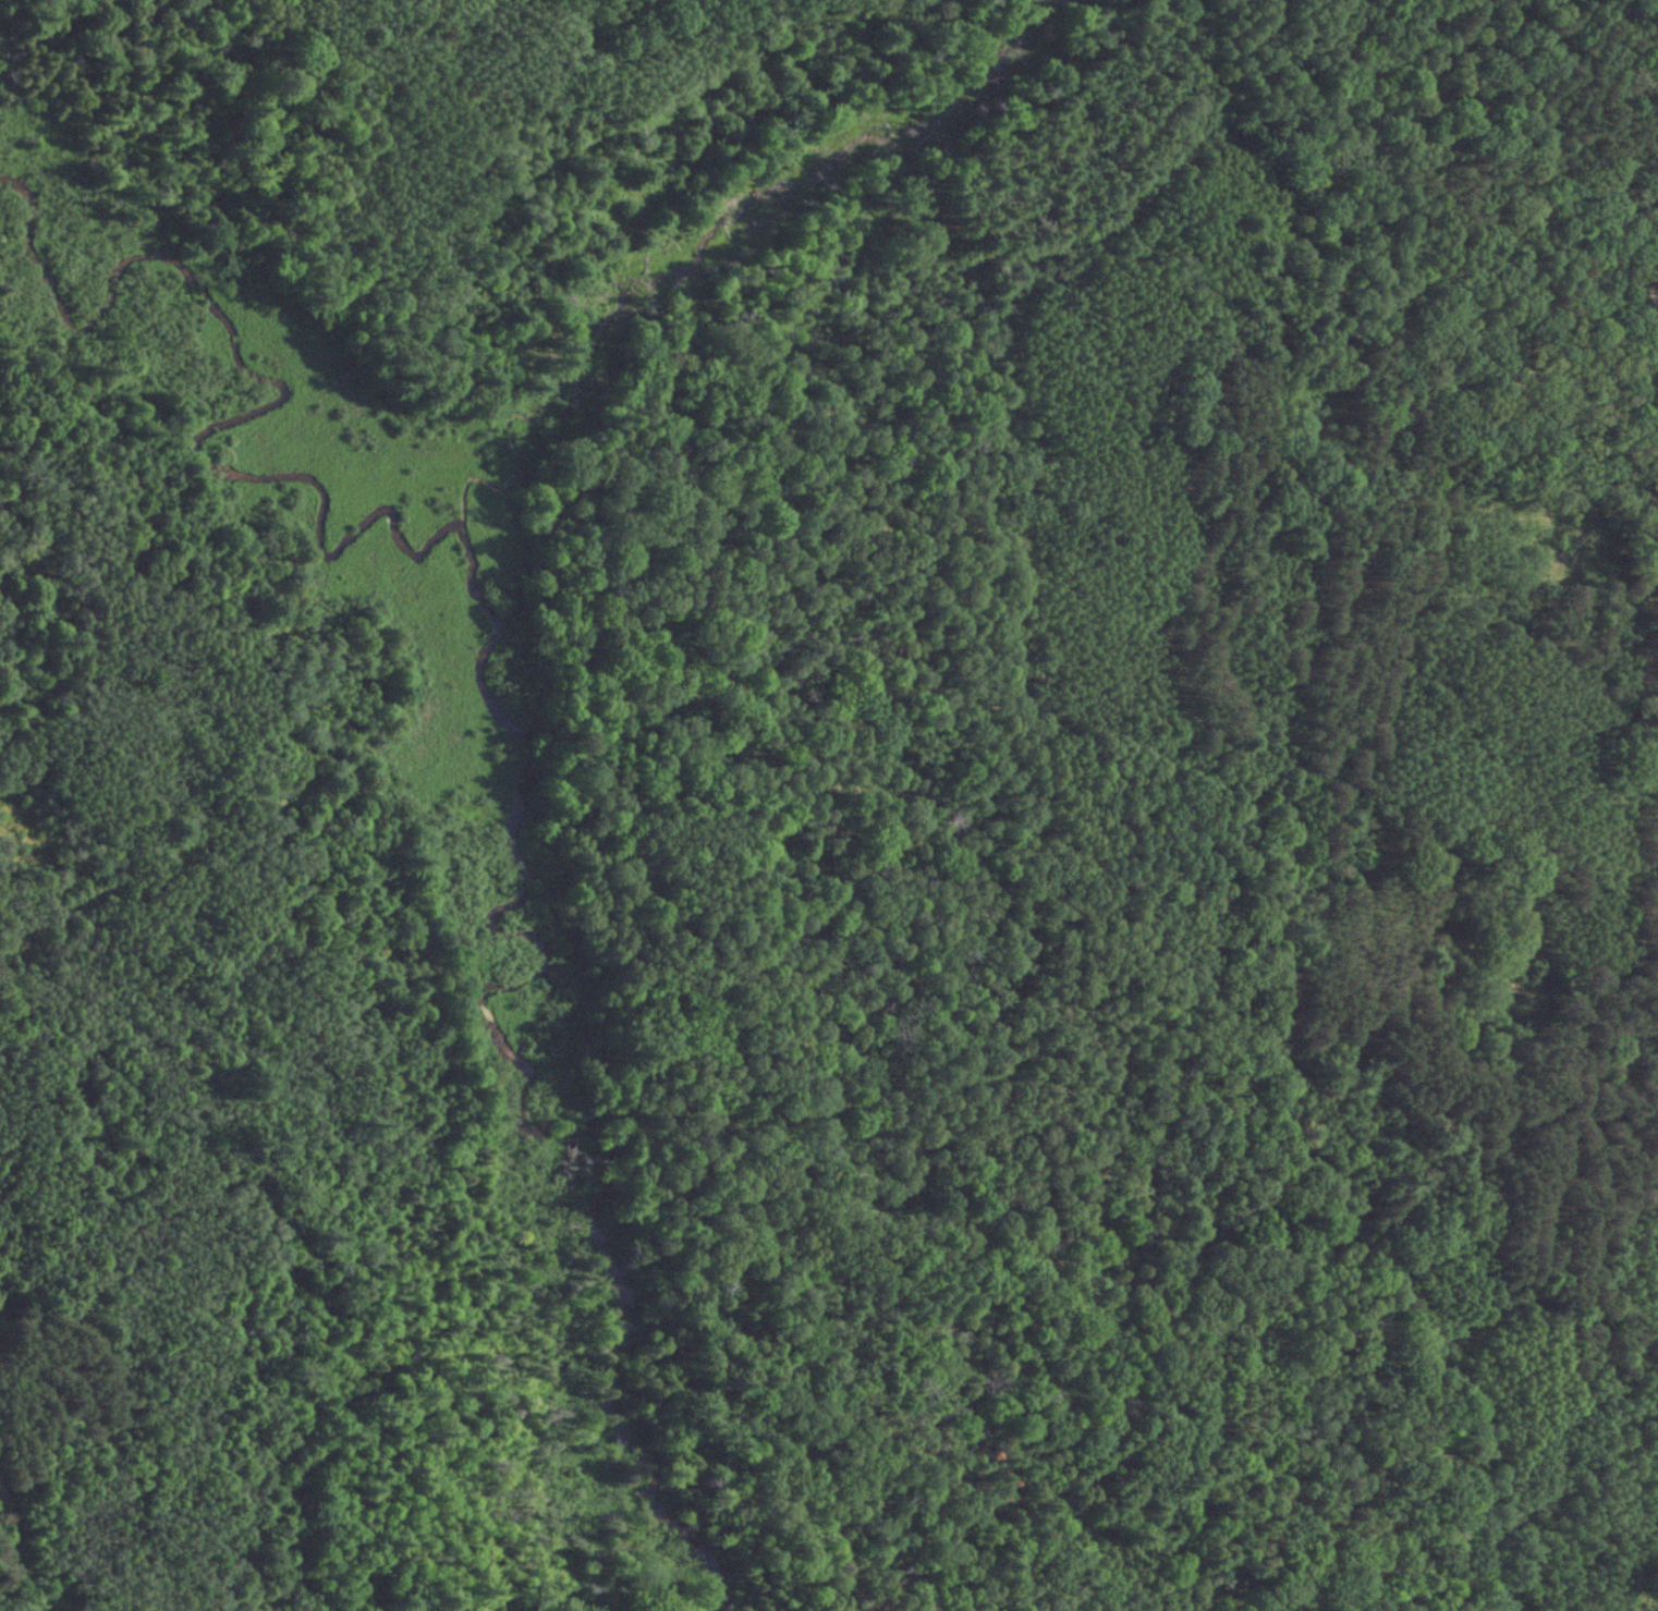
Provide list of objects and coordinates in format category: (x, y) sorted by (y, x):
road: (1354, 73)

